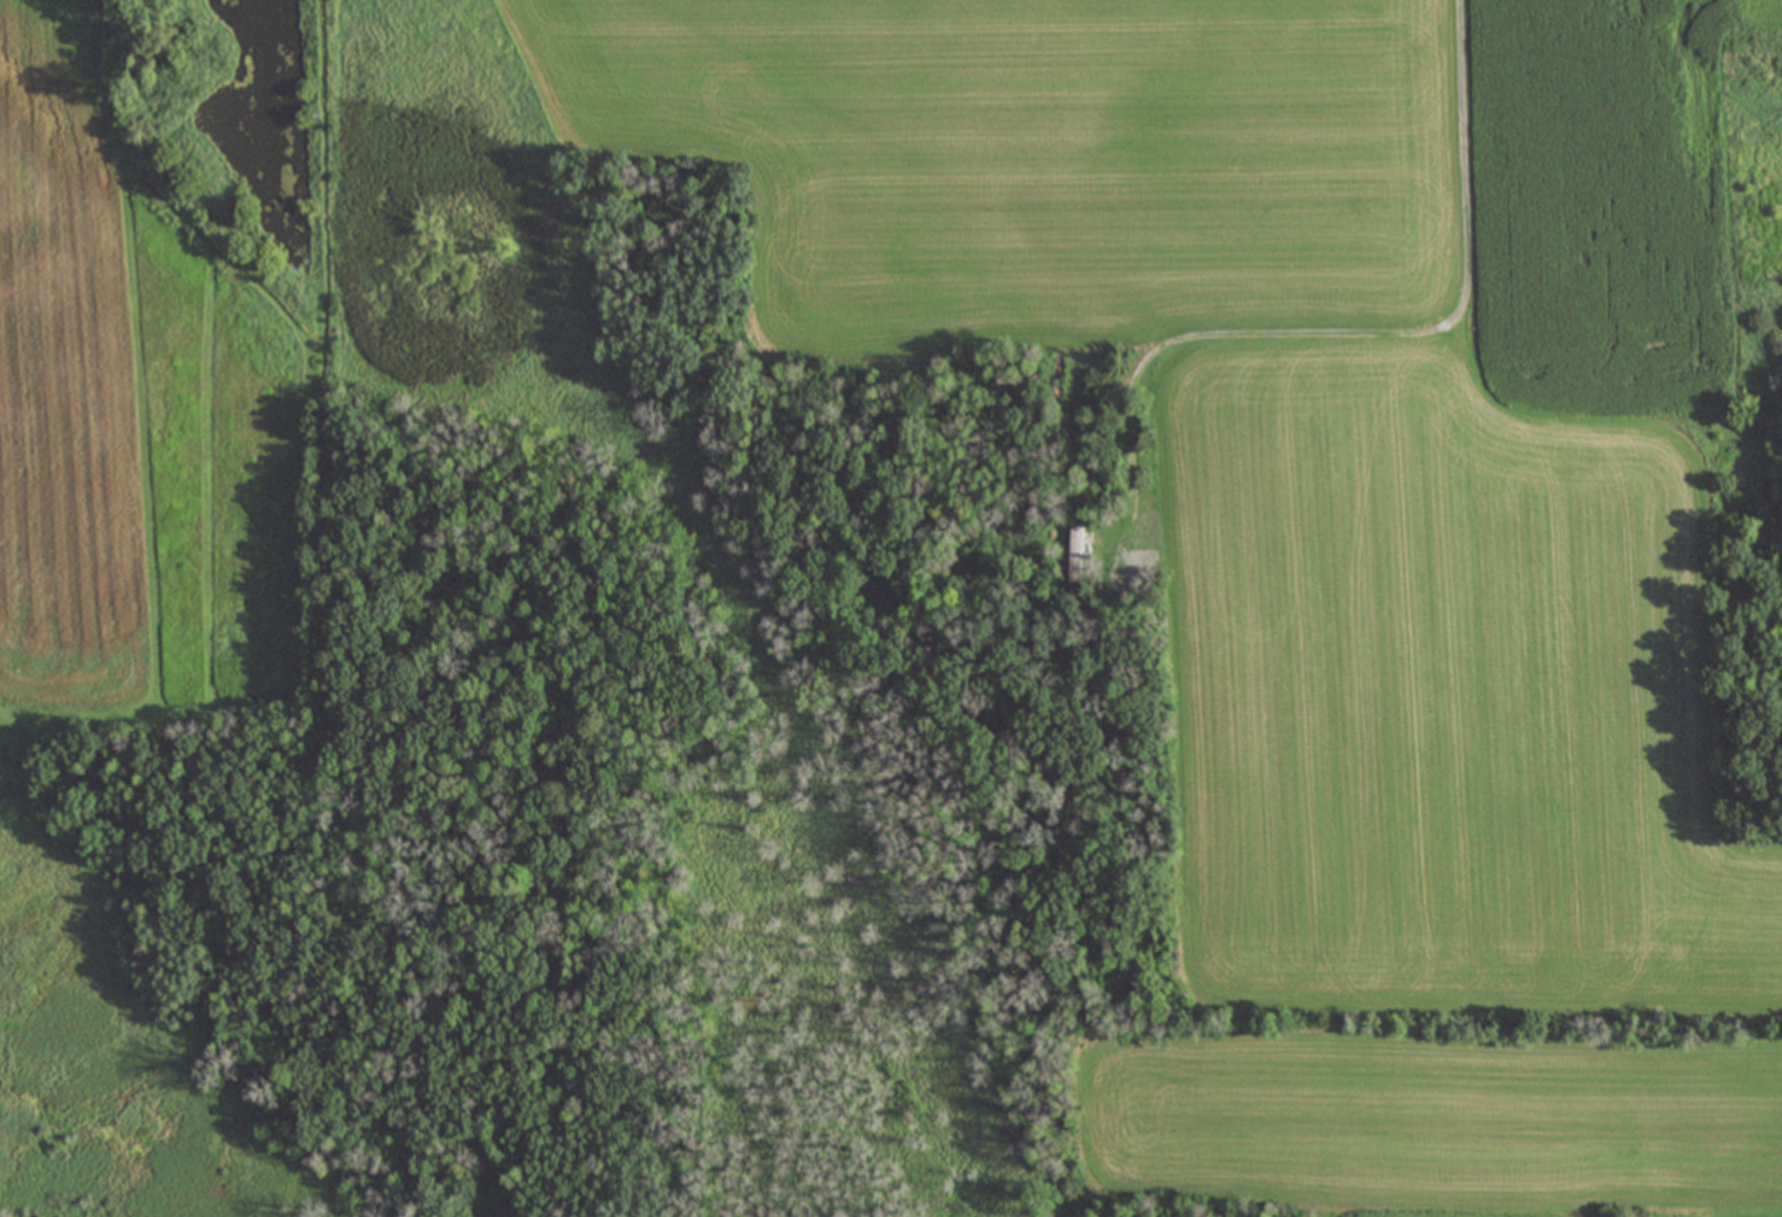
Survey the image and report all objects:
road: (1413, 328)
building: (1063, 380)
building: (1081, 557)

